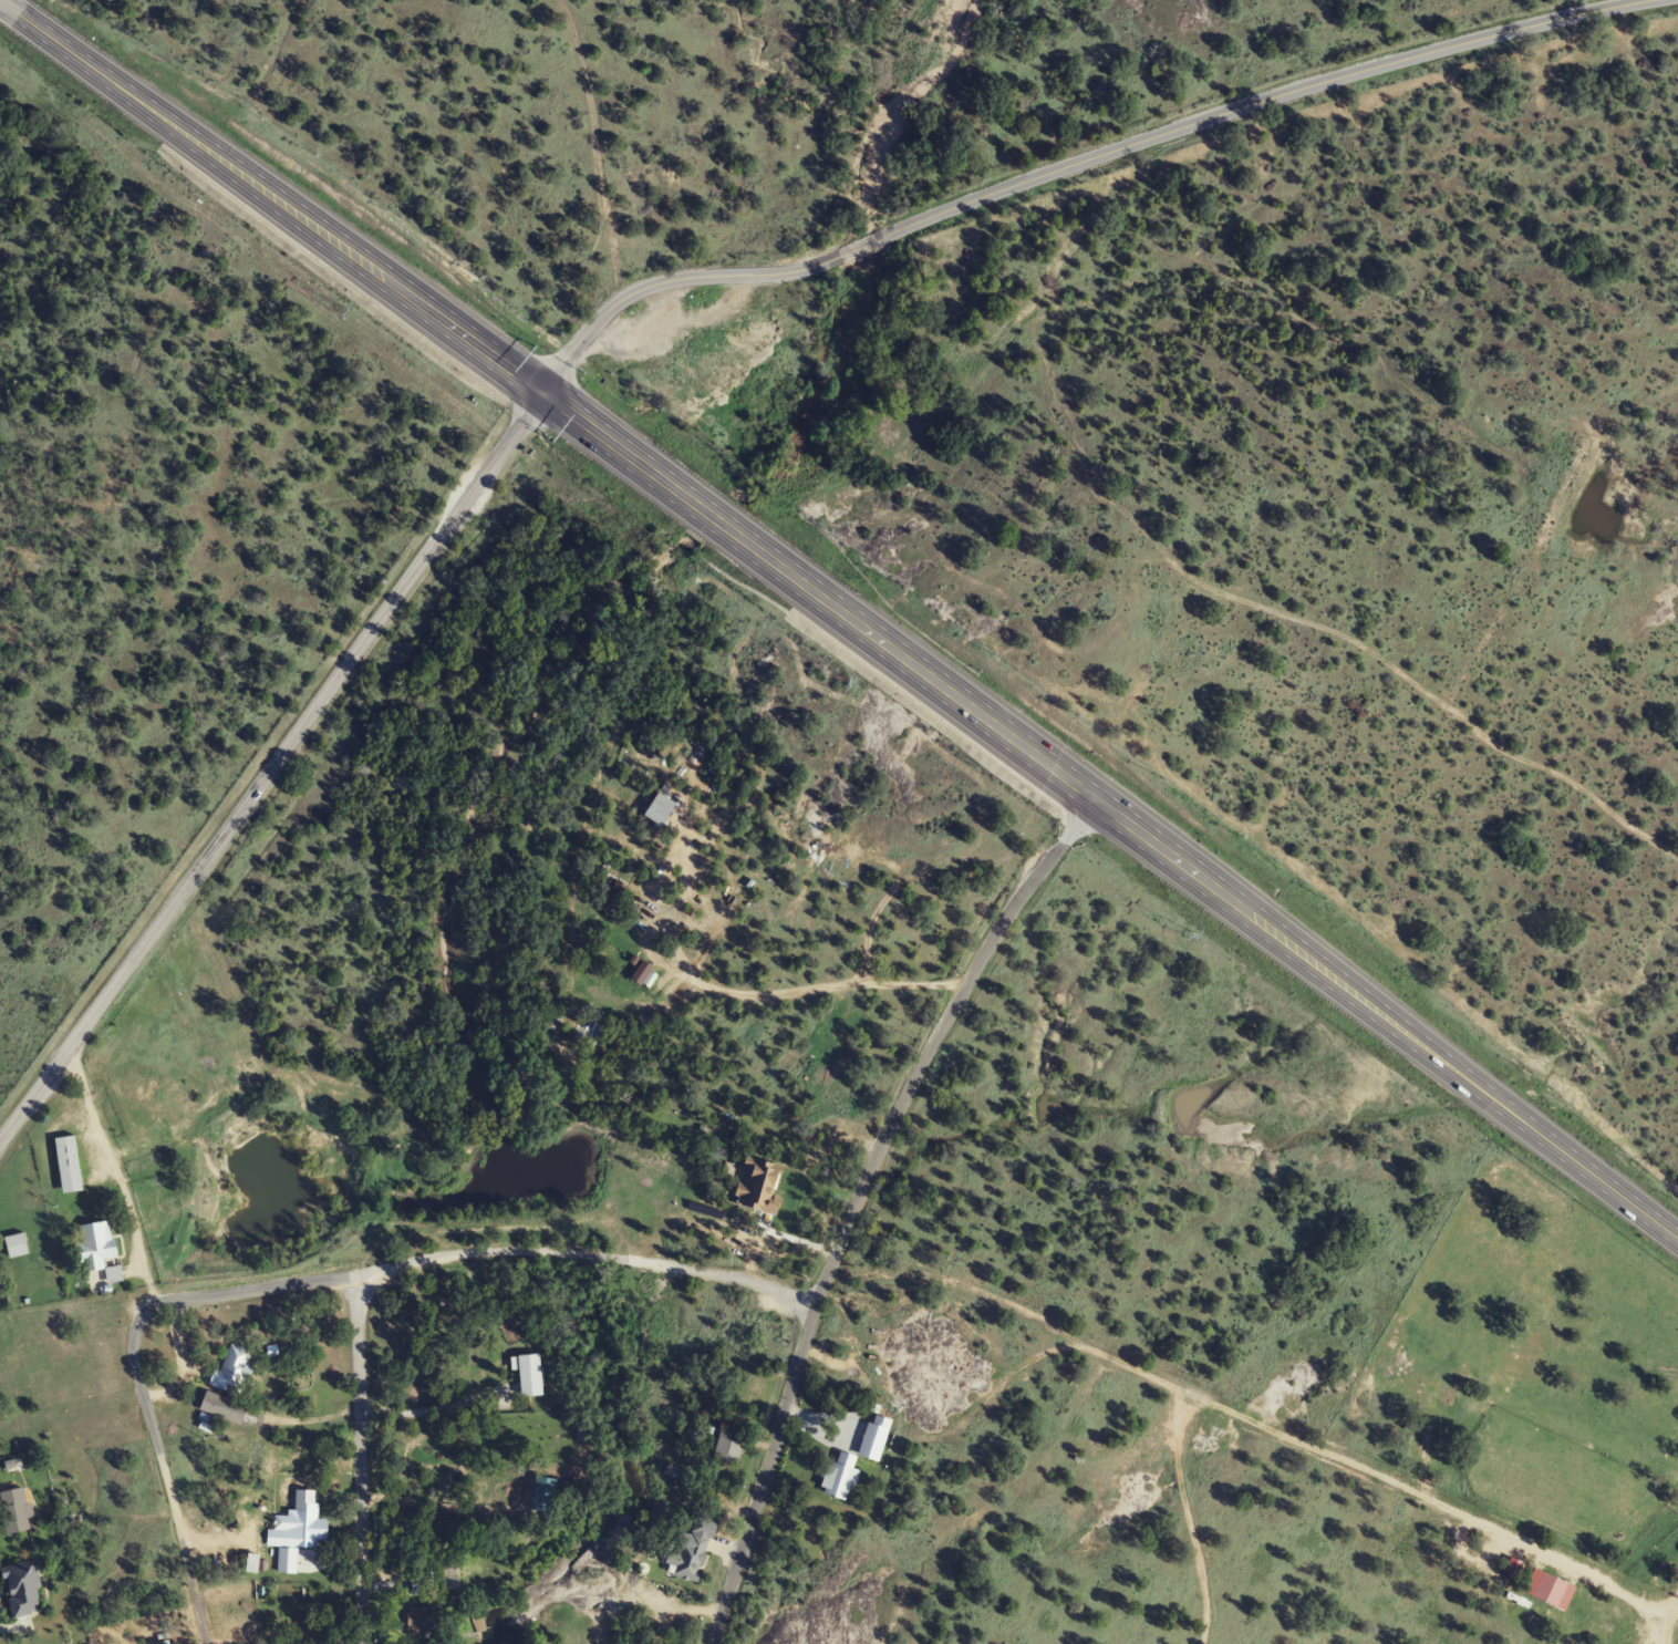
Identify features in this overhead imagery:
road: (1079, 168)
power tower: (345, 311)
road: (838, 623)
power tower: (848, 682)
road: (270, 768)
power tower: (1192, 935)
road: (766, 995)
building: (69, 1166)
road: (854, 1203)
building: (97, 1245)
building: (15, 1247)
road: (446, 1253)
building: (235, 1372)
building: (224, 1408)
road: (1262, 1408)
building: (873, 1441)
building: (728, 1446)
road: (354, 1454)
road: (175, 1477)
building: (840, 1477)
building: (15, 1510)
building: (307, 1518)
road: (1316, 1542)
building: (691, 1557)
building: (23, 1589)
building: (1552, 1589)
road: (1674, 1601)
building: (423, 1621)

